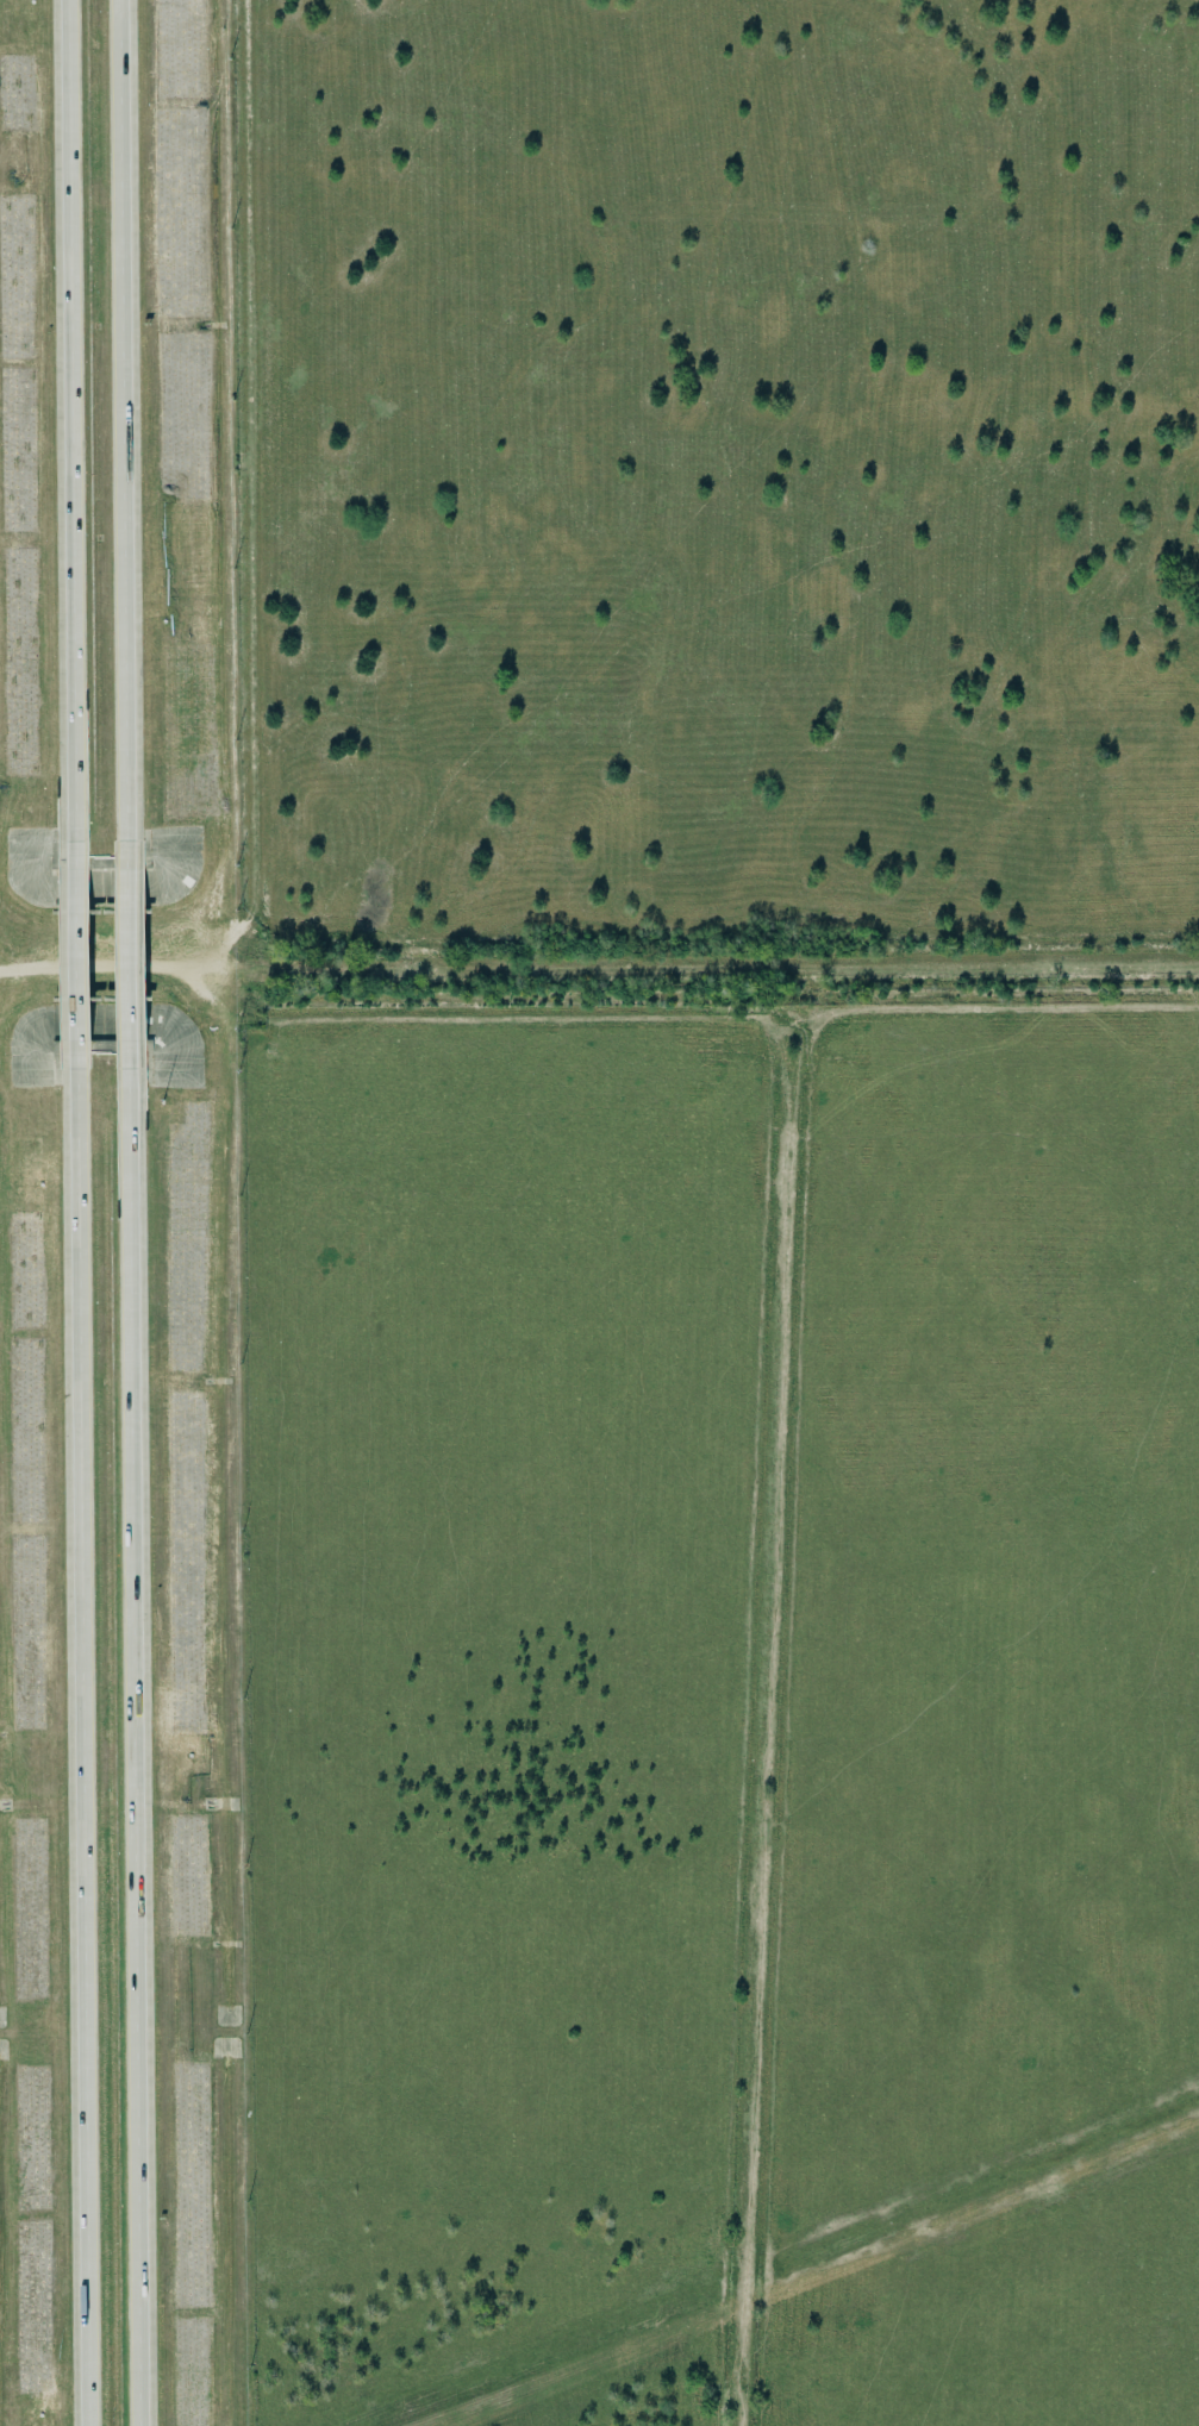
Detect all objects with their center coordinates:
road: (73, 420)
road: (125, 436)
road: (130, 952)
road: (77, 955)
road: (136, 1728)
road: (82, 1747)

